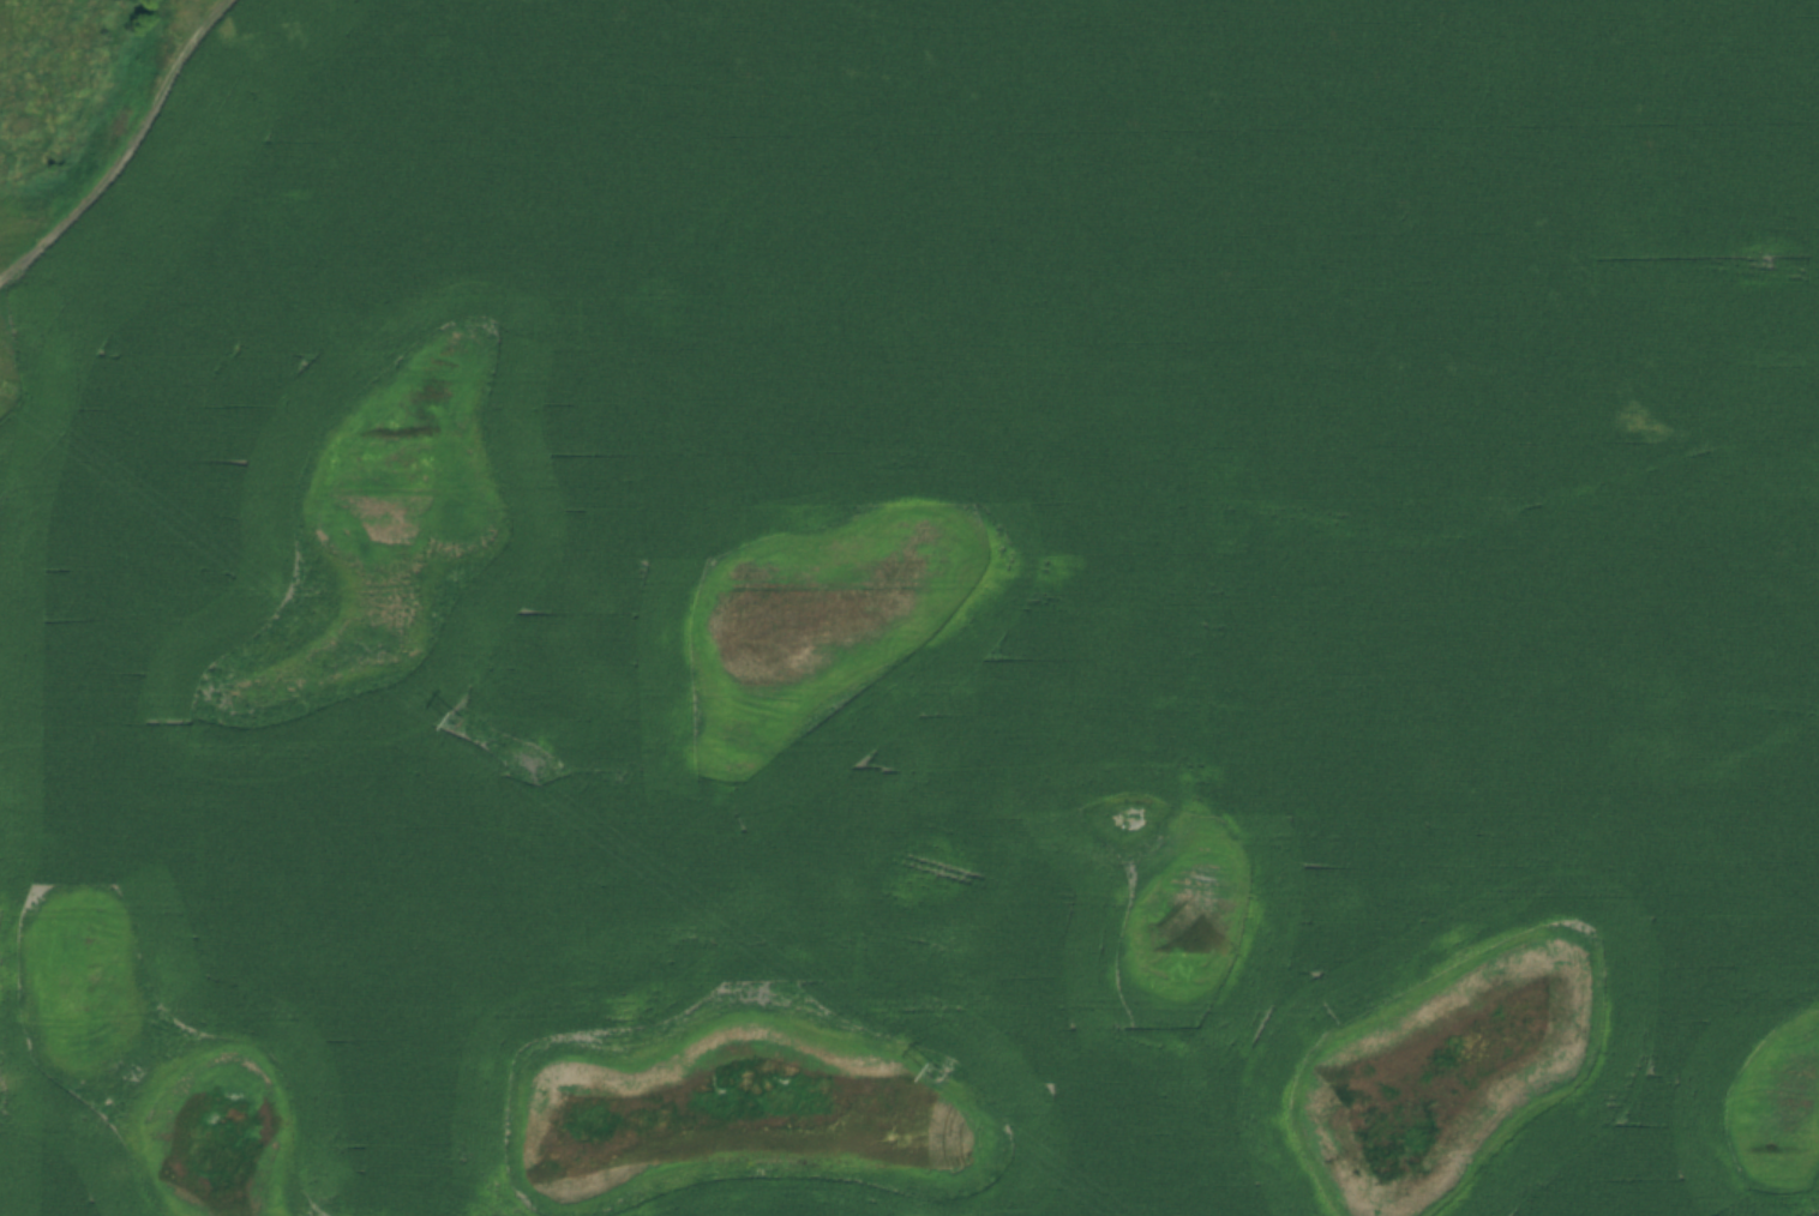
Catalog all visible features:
river: (101, 120)
power tower: (454, 716)
power tower: (933, 1070)

